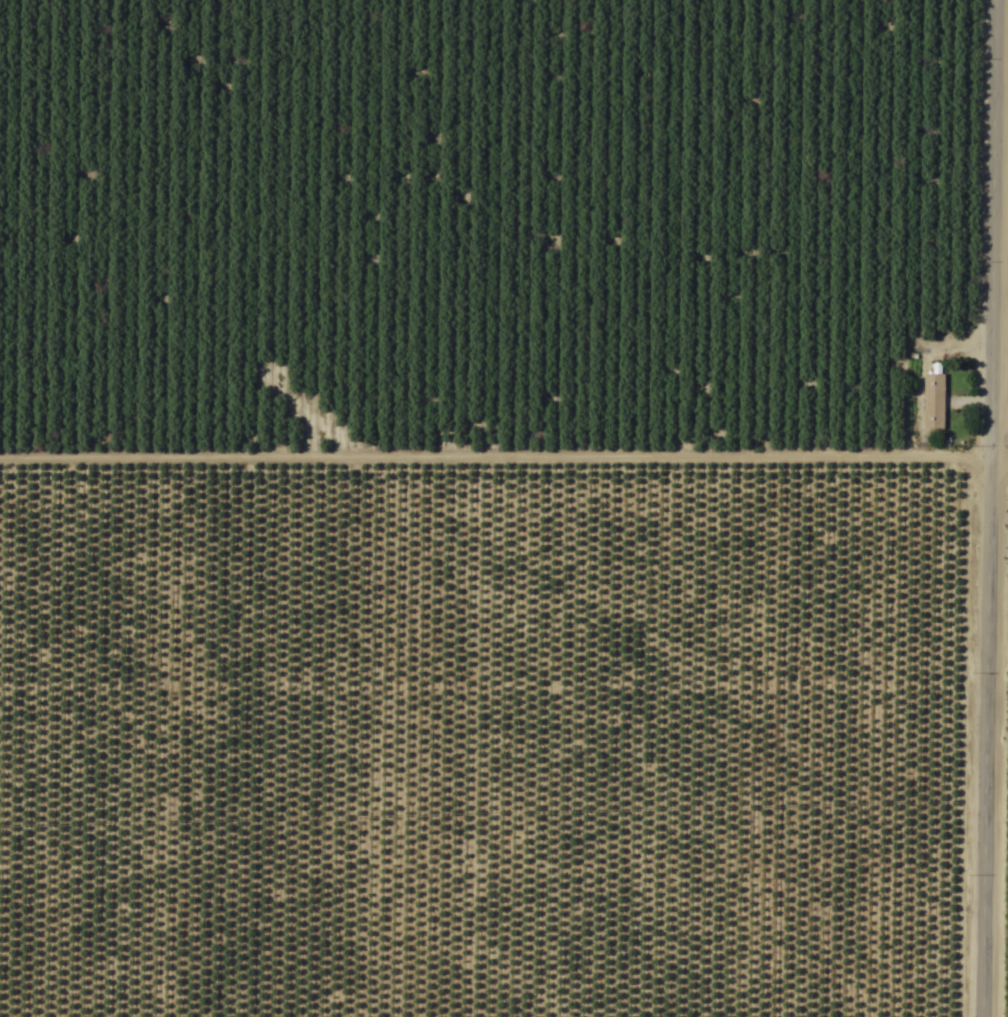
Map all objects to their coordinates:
road: (1003, 45)
building: (932, 402)
road: (504, 445)
crop: (504, 508)
road: (991, 508)
road: (999, 542)

